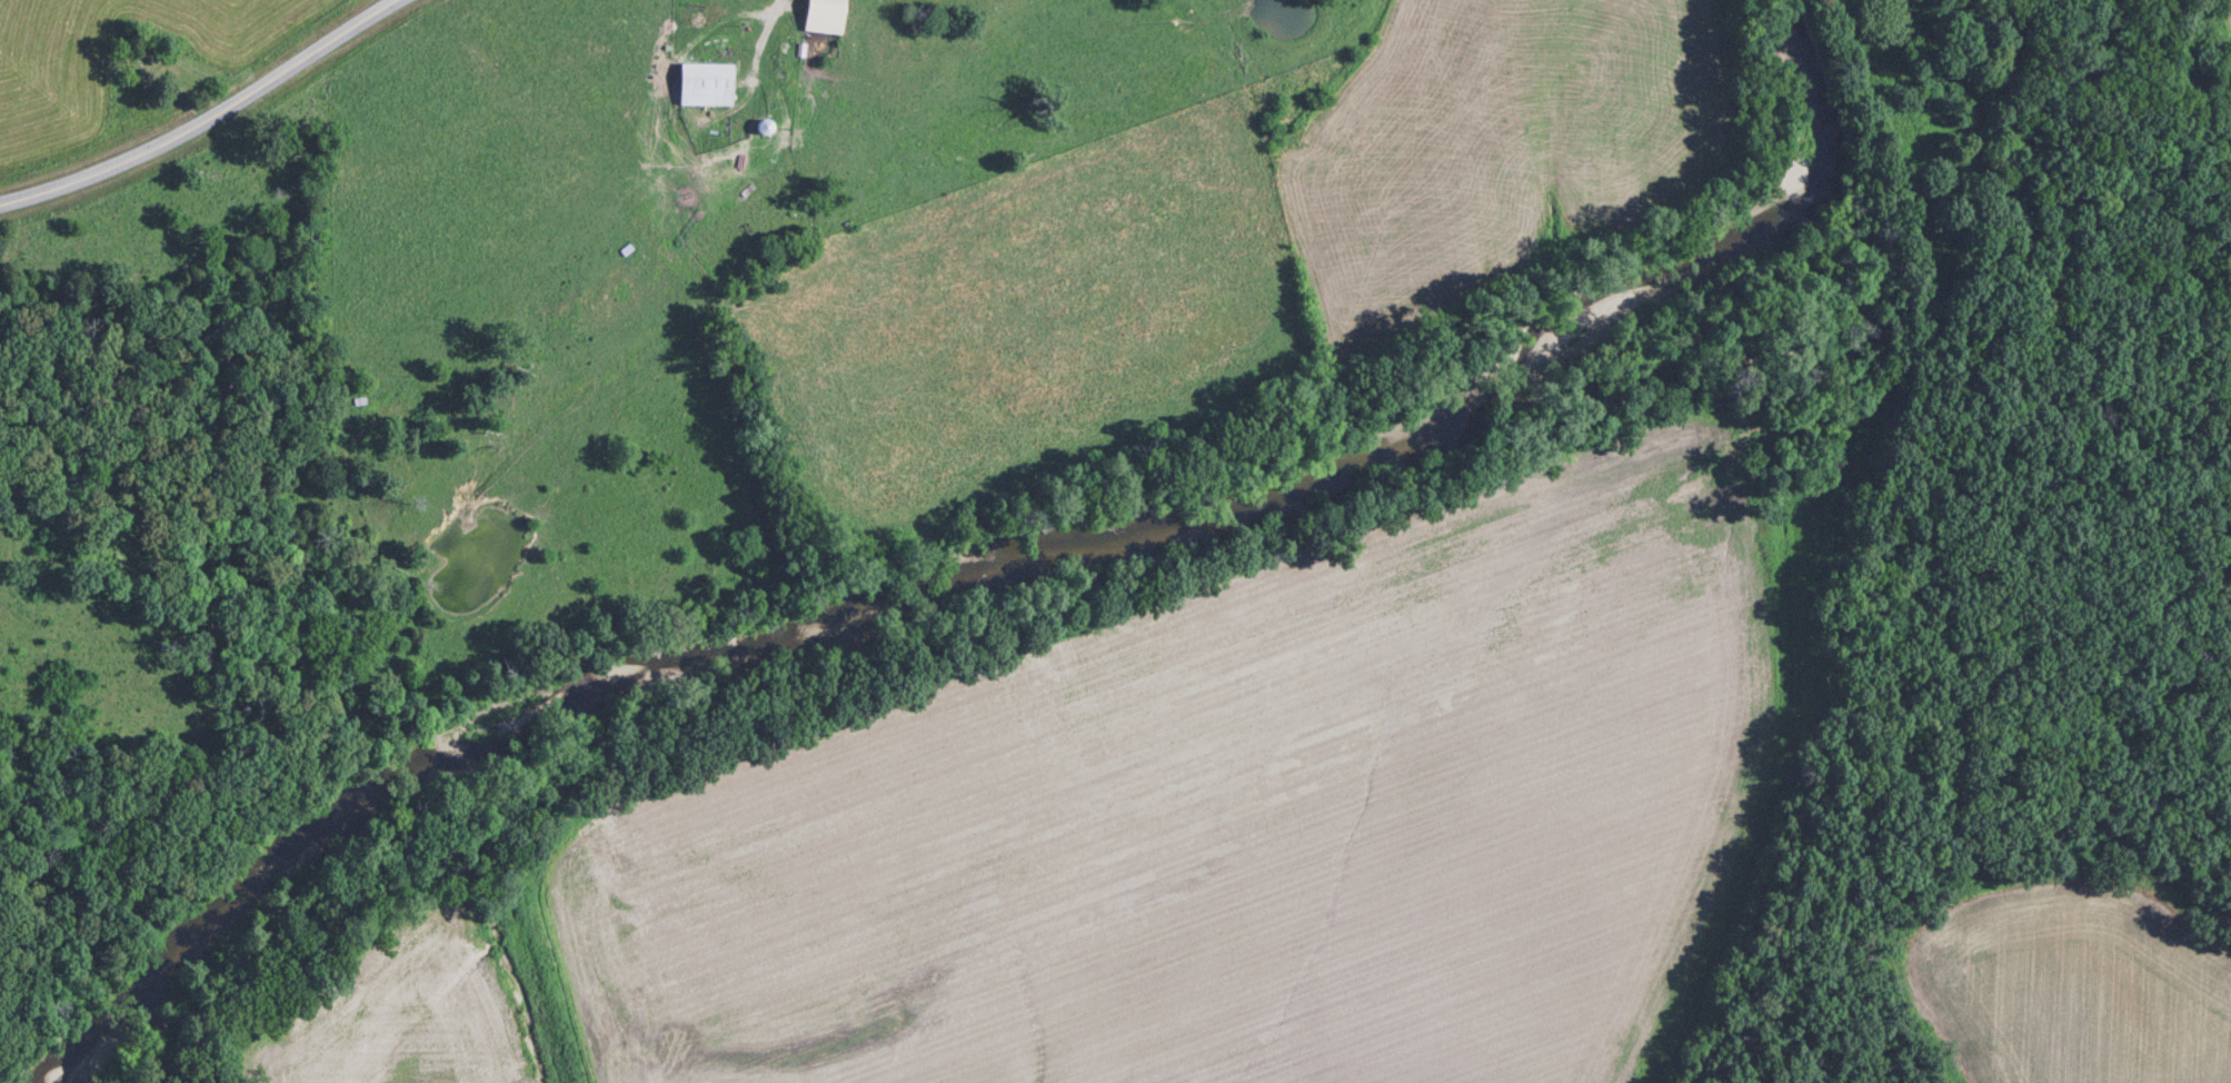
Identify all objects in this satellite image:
building: (825, 16)
park: (161, 66)
building: (706, 85)
road: (210, 120)

